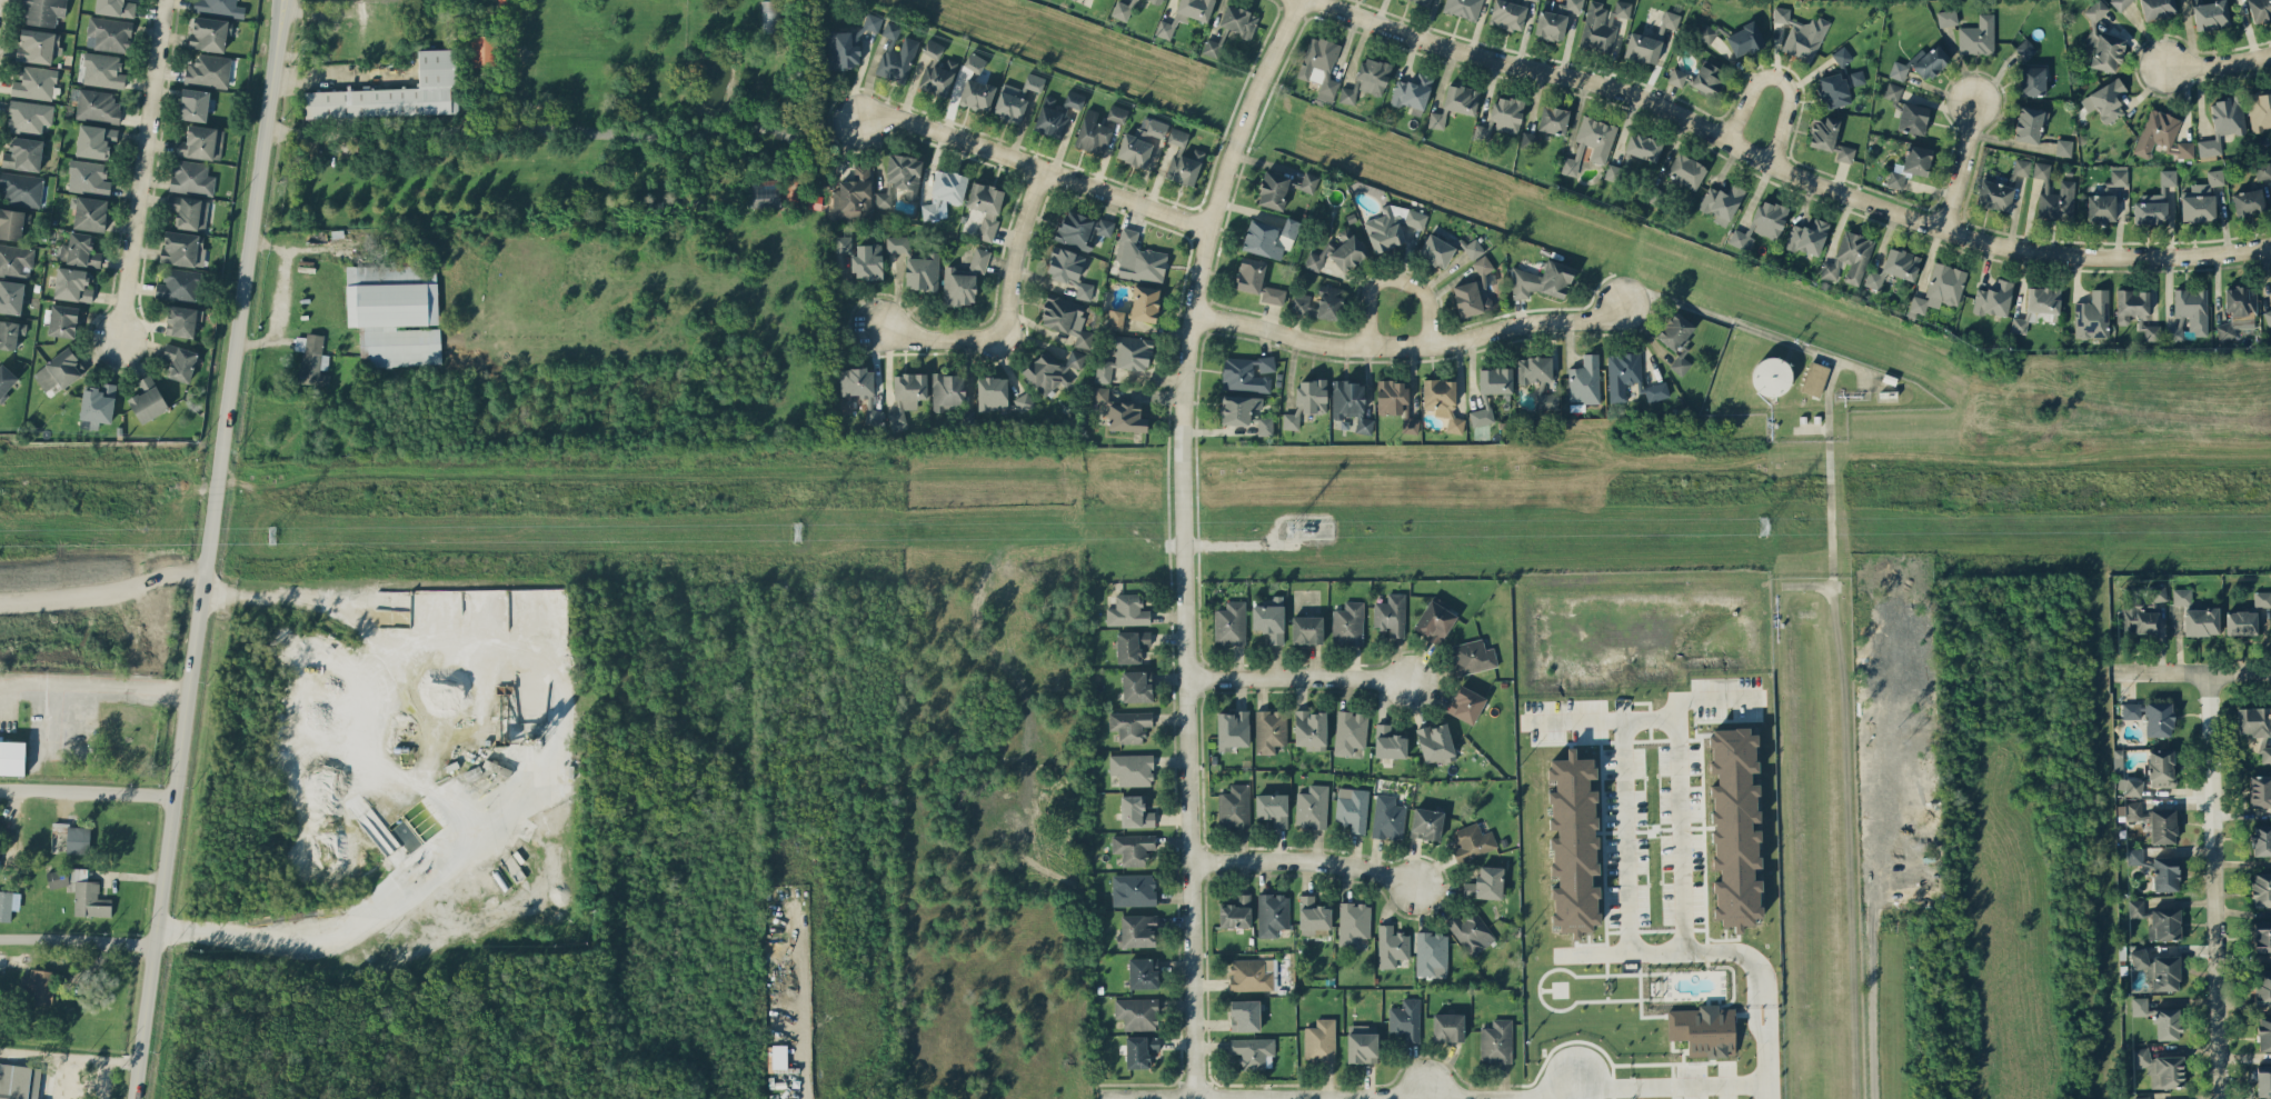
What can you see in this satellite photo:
building: (1158, 0)
building: (1536, 0)
building: (1426, 1)
building: (2120, 3)
building: (116, 7)
building: (220, 7)
building: (1463, 8)
building: (2157, 8)
building: (2259, 9)
building: (1120, 10)
building: (2095, 10)
building: (42, 11)
building: (2210, 13)
building: (1185, 14)
building: (1507, 14)
building: (1946, 17)
building: (1670, 19)
building: (1238, 20)
building: (1602, 21)
building: (1550, 24)
building: (108, 33)
building: (1801, 33)
building: (1978, 36)
building: (1744, 39)
building: (848, 43)
building: (38, 44)
building: (933, 48)
building: (1642, 48)
building: (2025, 49)
building: (485, 50)
building: (2105, 51)
building: (895, 54)
building: (1841, 54)
building: (974, 61)
building: (1929, 61)
road: (2217, 64)
building: (1321, 66)
building: (102, 70)
building: (208, 70)
building: (1898, 70)
building: (1373, 76)
building: (937, 77)
building: (1676, 77)
building: (1856, 77)
building: (1709, 78)
road: (339, 79)
building: (2032, 80)
building: (1034, 81)
road: (1777, 81)
building: (34, 82)
building: (1833, 89)
building: (1413, 91)
building: (1892, 91)
building: (395, 92)
building: (976, 93)
building: (1349, 93)
building: (1461, 99)
building: (2105, 100)
building: (1010, 102)
building: (193, 104)
building: (97, 106)
building: (2259, 110)
building: (1056, 112)
building: (1117, 113)
building: (1507, 113)
building: (28, 116)
building: (1912, 118)
building: (1436, 119)
building: (1553, 119)
building: (2030, 123)
building: (2222, 123)
building: (1482, 131)
building: (1823, 132)
building: (1092, 133)
building: (1177, 136)
building: (1596, 137)
building: (1528, 139)
building: (94, 140)
building: (1141, 141)
building: (201, 142)
building: (1643, 146)
building: (2063, 147)
building: (2185, 149)
building: (23, 153)
building: (1844, 153)
building: (1916, 159)
road: (1034, 160)
building: (1184, 164)
building: (1567, 164)
road: (1959, 166)
building: (2021, 167)
road: (137, 169)
road: (1779, 169)
building: (1685, 170)
building: (2262, 170)
building: (1613, 171)
building: (2119, 174)
building: (88, 176)
building: (191, 177)
building: (900, 178)
building: (1895, 179)
building: (1308, 181)
building: (948, 186)
building: (20, 187)
building: (1273, 189)
building: (854, 193)
building: (1994, 194)
building: (2053, 194)
building: (765, 196)
building: (2201, 199)
building: (2154, 201)
building: (2248, 201)
building: (1721, 202)
building: (986, 207)
building: (2101, 208)
building: (189, 211)
building: (89, 212)
building: (12, 222)
building: (1761, 223)
building: (1392, 226)
building: (1289, 227)
building: (1080, 229)
building: (1807, 237)
building: (1262, 239)
building: (843, 243)
building: (897, 243)
building: (182, 248)
building: (1473, 248)
building: (79, 250)
building: (1435, 250)
building: (1348, 252)
building: (1138, 259)
building: (1316, 259)
building: (1849, 259)
building: (16, 260)
building: (867, 260)
building: (1894, 267)
building: (1069, 270)
building: (922, 271)
building: (1249, 274)
road: (1392, 277)
building: (1542, 280)
building: (179, 283)
building: (72, 284)
building: (1940, 288)
building: (1473, 291)
building: (1272, 294)
building: (11, 296)
building: (1993, 298)
road: (286, 299)
building: (1319, 302)
building: (2036, 306)
road: (1006, 307)
building: (1136, 307)
building: (2132, 307)
building: (2192, 307)
building: (2238, 310)
building: (2092, 314)
building: (2268, 317)
building: (1065, 318)
building: (62, 320)
building: (182, 320)
building: (397, 320)
road: (1754, 329)
building: (1675, 330)
building: (10, 332)
building: (2152, 332)
building: (2174, 332)
road: (1407, 344)
building: (1125, 357)
building: (311, 359)
building: (179, 361)
building: (1680, 364)
building: (59, 369)
building: (1534, 369)
building: (1052, 370)
building: (1246, 372)
building: (1771, 376)
building: (1630, 377)
building: (1814, 378)
building: (7, 379)
building: (1495, 380)
building: (1584, 380)
building: (856, 381)
building: (992, 392)
building: (1099, 393)
building: (906, 396)
building: (950, 396)
building: (148, 399)
building: (1306, 400)
building: (1442, 400)
building: (1546, 400)
building: (1023, 401)
building: (1395, 402)
building: (98, 404)
building: (1349, 404)
building: (1238, 408)
building: (1480, 416)
building: (874, 417)
building: (1125, 417)
building: (1264, 424)
power tower: (1797, 527)
power tower: (1294, 530)
power tower: (780, 533)
power tower: (271, 536)
road: (1181, 538)
road: (207, 549)
road: (1806, 586)
building: (2155, 595)
building: (2181, 596)
building: (2262, 598)
building: (1127, 610)
building: (1391, 613)
building: (2136, 615)
building: (1269, 619)
building: (1434, 621)
building: (2201, 621)
building: (2241, 622)
building: (1229, 623)
building: (1347, 623)
building: (1306, 629)
building: (1132, 645)
building: (1472, 656)
road: (2197, 670)
road: (1294, 678)
road: (123, 686)
building: (1136, 686)
building: (1466, 703)
building: (2130, 710)
building: (2159, 718)
building: (2253, 721)
building: (1129, 725)
road: (1844, 727)
building: (1232, 729)
building: (1311, 729)
building: (1269, 730)
building: (1349, 731)
building: (1388, 742)
building: (1435, 742)
building: (2265, 753)
building: (11, 757)
building: (2161, 767)
building: (497, 768)
building: (1132, 769)
road: (441, 786)
building: (2132, 787)
building: (2260, 790)
road: (87, 791)
building: (1234, 806)
building: (1312, 806)
building: (1273, 807)
building: (1352, 808)
building: (1135, 811)
road: (1620, 815)
building: (1387, 818)
building: (1426, 822)
building: (2162, 826)
building: (1734, 827)
building: (78, 839)
building: (2260, 839)
building: (1472, 841)
building: (1573, 843)
building: (1133, 848)
building: (2134, 856)
road: (1301, 860)
building: (2165, 873)
building: (1485, 883)
road: (2221, 885)
building: (1133, 889)
building: (2261, 889)
building: (81, 891)
building: (6, 905)
building: (2135, 908)
building: (1236, 911)
building: (1272, 913)
building: (1313, 915)
building: (1353, 922)
building: (2164, 923)
building: (1137, 930)
building: (1471, 931)
road: (78, 932)
building: (2262, 937)
building: (1391, 946)
building: (1431, 953)
building: (2138, 958)
building: (1143, 972)
building: (2165, 972)
building: (1251, 973)
building: (23, 982)
building: (41, 986)
building: (2262, 987)
building: (1137, 1012)
building: (1245, 1015)
building: (2159, 1018)
building: (1405, 1019)
building: (1447, 1027)
building: (1703, 1029)
building: (2263, 1032)
building: (1319, 1040)
building: (1496, 1041)
building: (1362, 1043)
building: (1139, 1050)
building: (1254, 1052)
building: (779, 1056)
road: (805, 1067)
building: (2161, 1068)
building: (2, 1069)
building: (2263, 1080)
building: (23, 1081)
road: (1687, 1083)
road: (1771, 1090)
road: (1351, 1092)
building: (2141, 1097)

